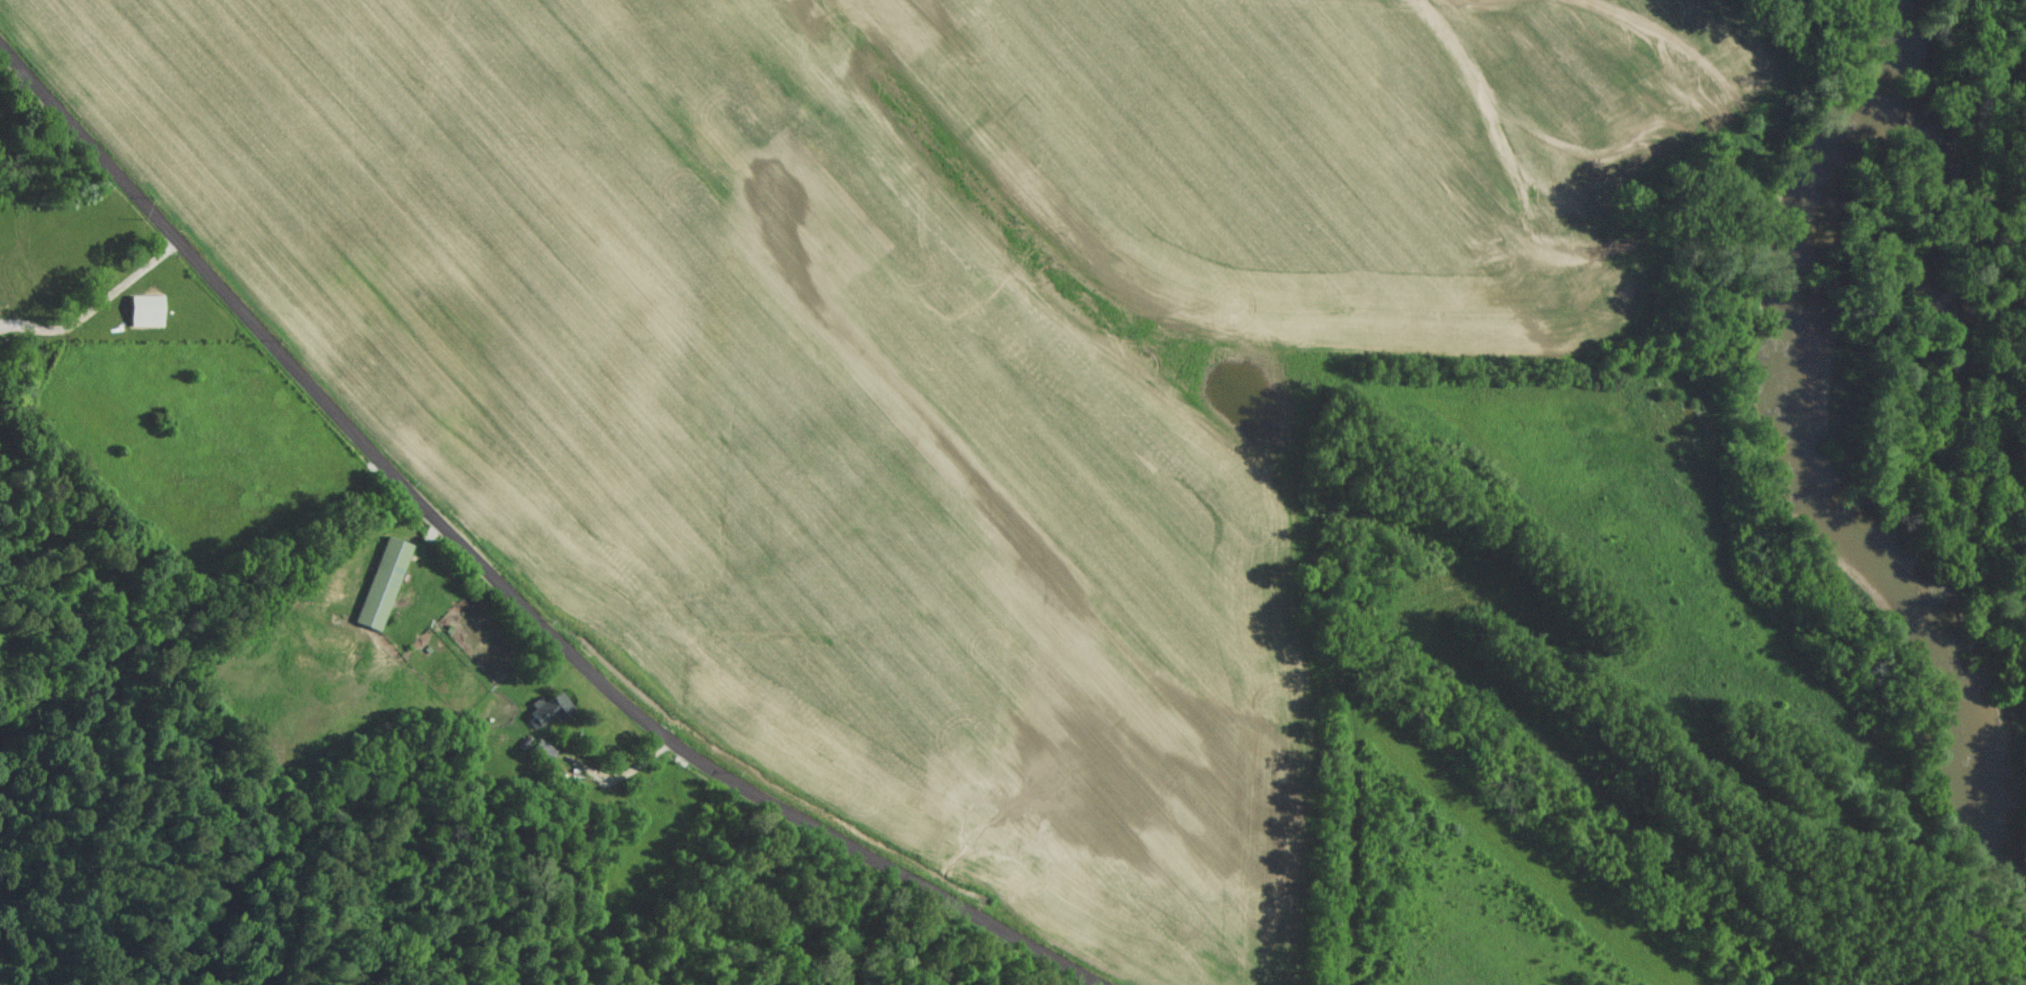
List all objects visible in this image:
river: (1804, 461)
building: (387, 582)
road: (494, 583)

